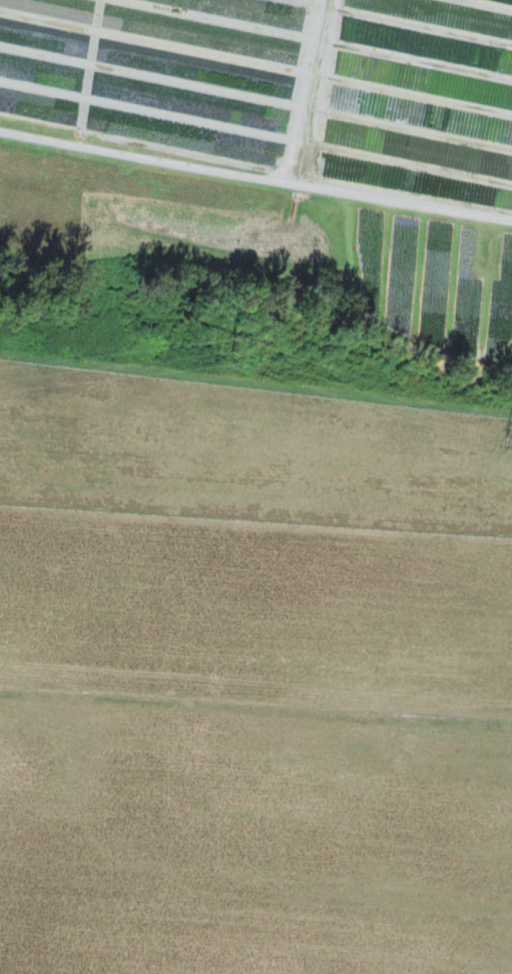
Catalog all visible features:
power tower: (230, 360)
power tower: (509, 440)

